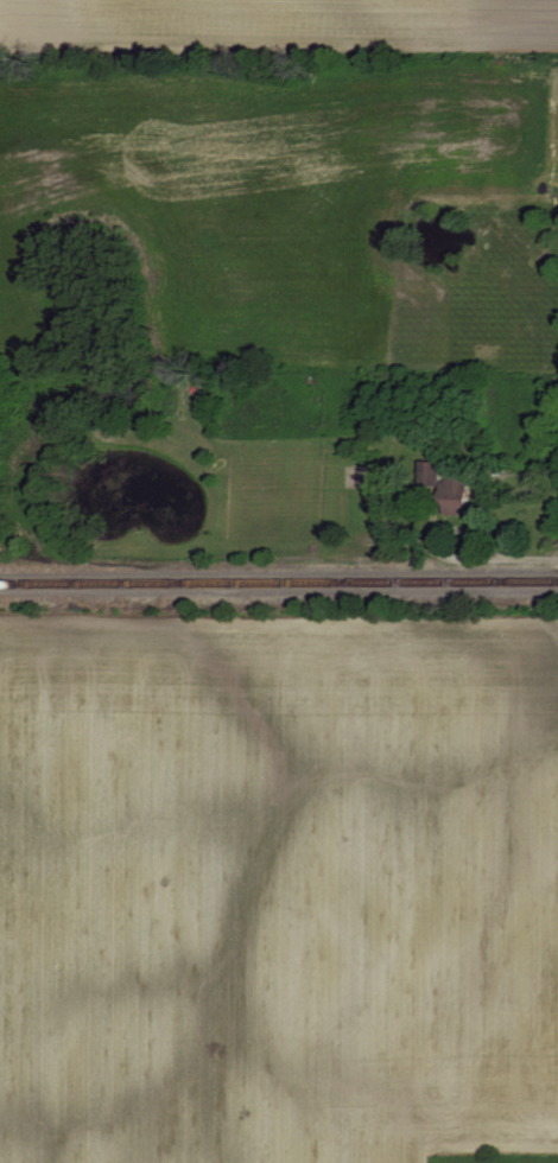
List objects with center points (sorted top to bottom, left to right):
building: (454, 485)
railway: (278, 580)
road: (405, 584)

